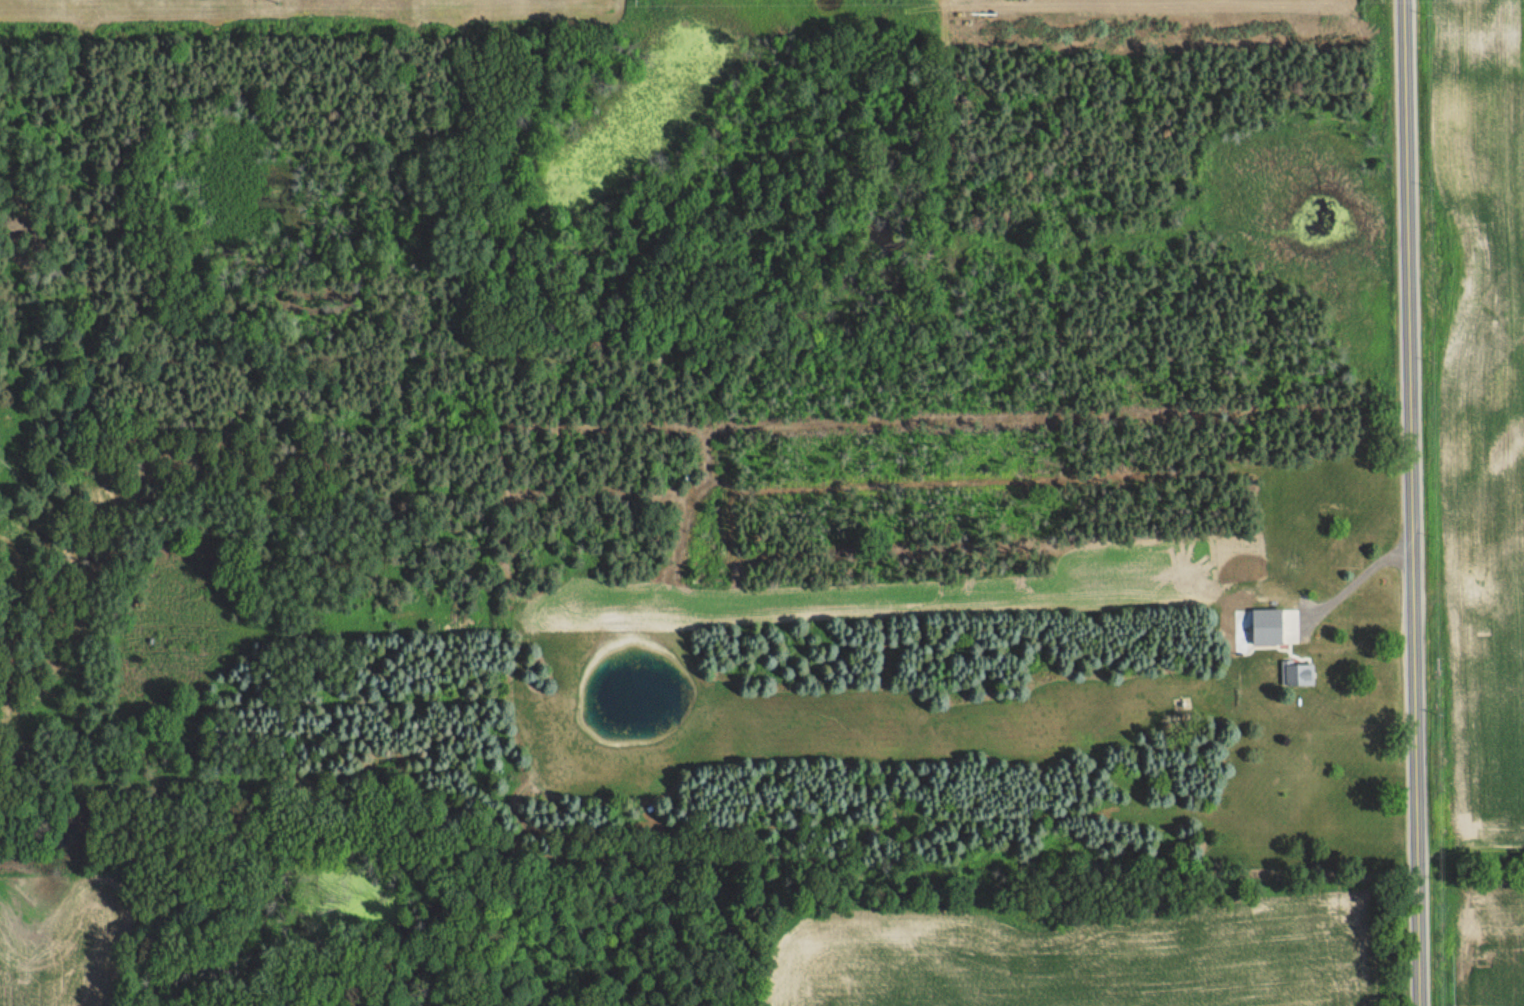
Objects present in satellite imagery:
power tower: (634, 1)
power tower: (275, 2)
road: (1407, 503)
building: (1276, 624)
building: (1297, 672)

